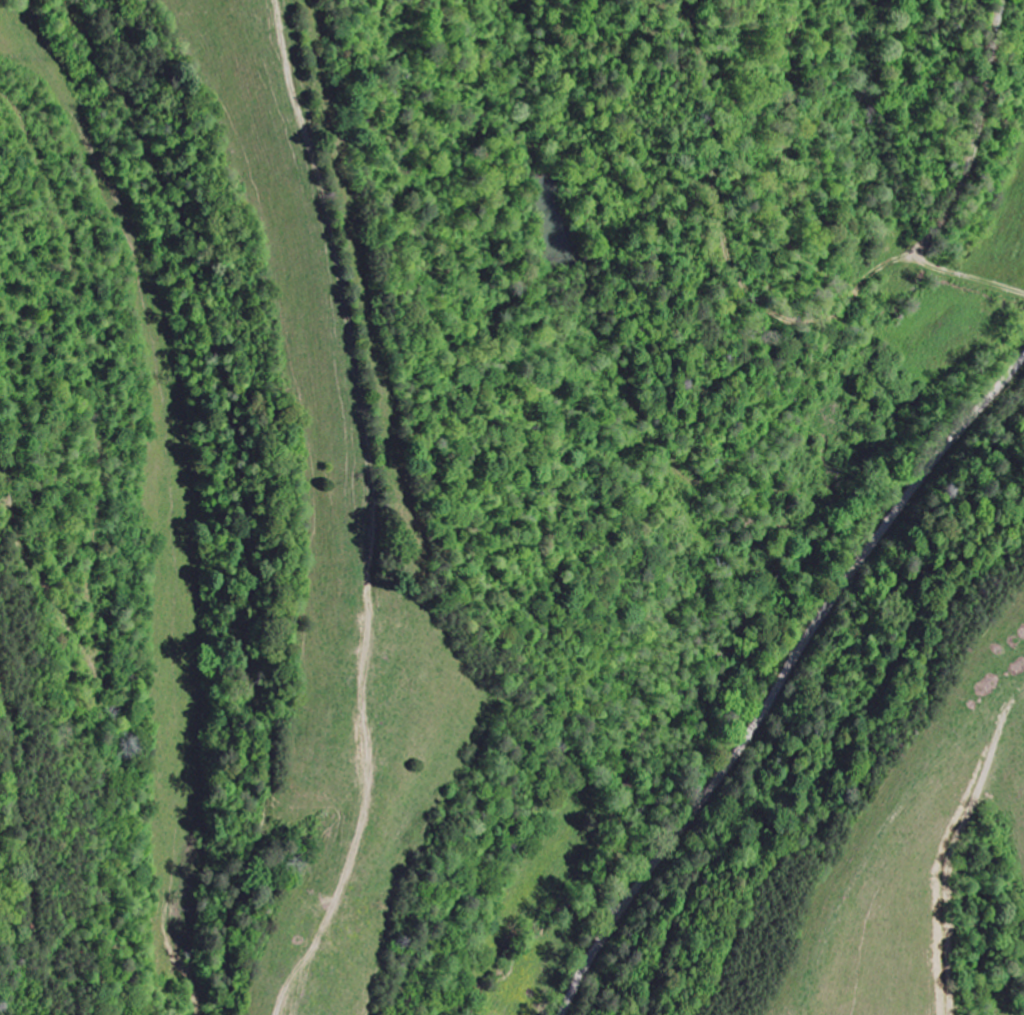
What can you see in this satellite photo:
road: (978, 281)
road: (785, 681)

